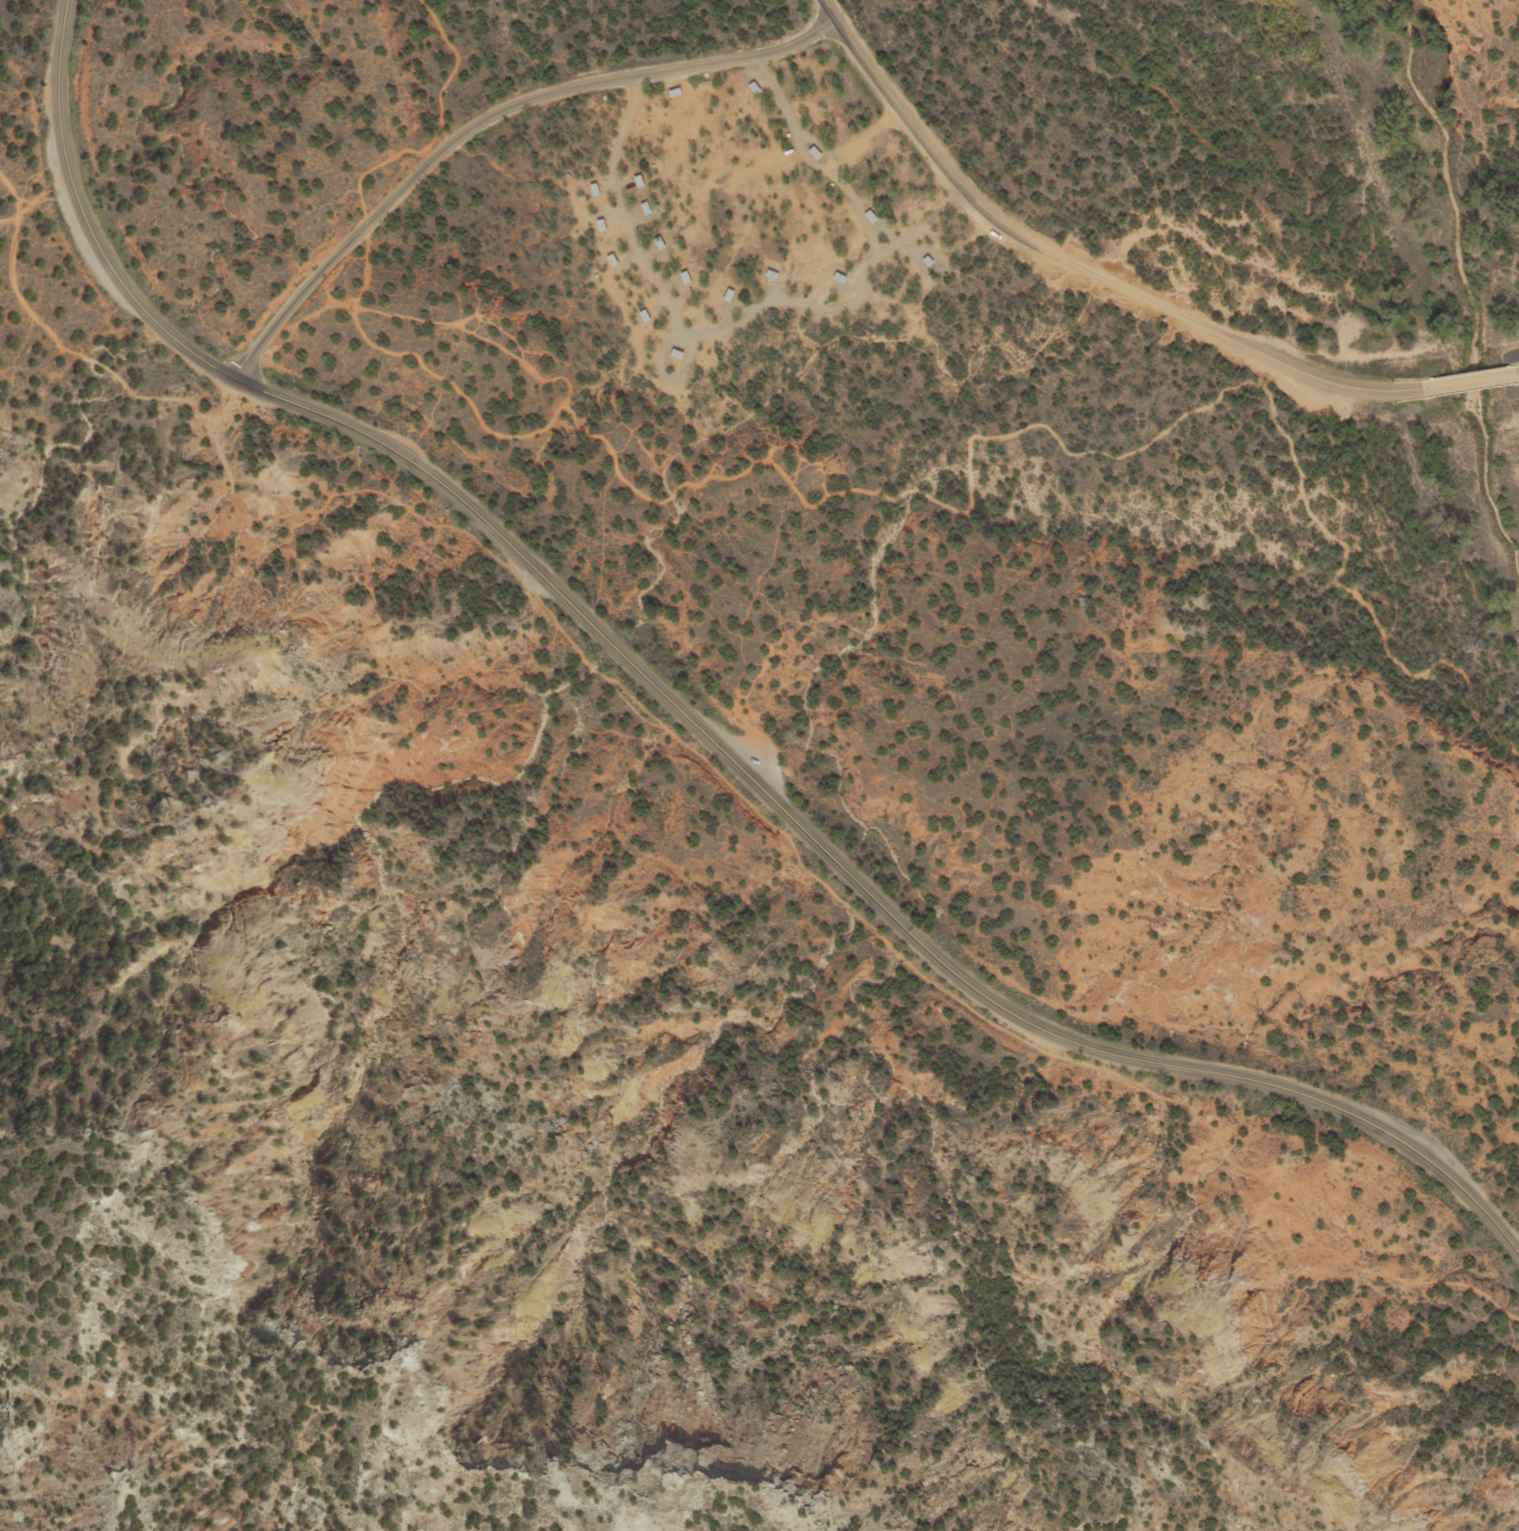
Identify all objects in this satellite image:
building: (756, 89)
road: (812, 163)
road: (420, 169)
road: (1082, 268)
road: (650, 272)
river: (1464, 286)
road: (380, 311)
road: (1265, 372)
road: (1514, 374)
road: (1472, 380)
road: (637, 492)
road: (1361, 599)
road: (686, 717)
road: (699, 756)

